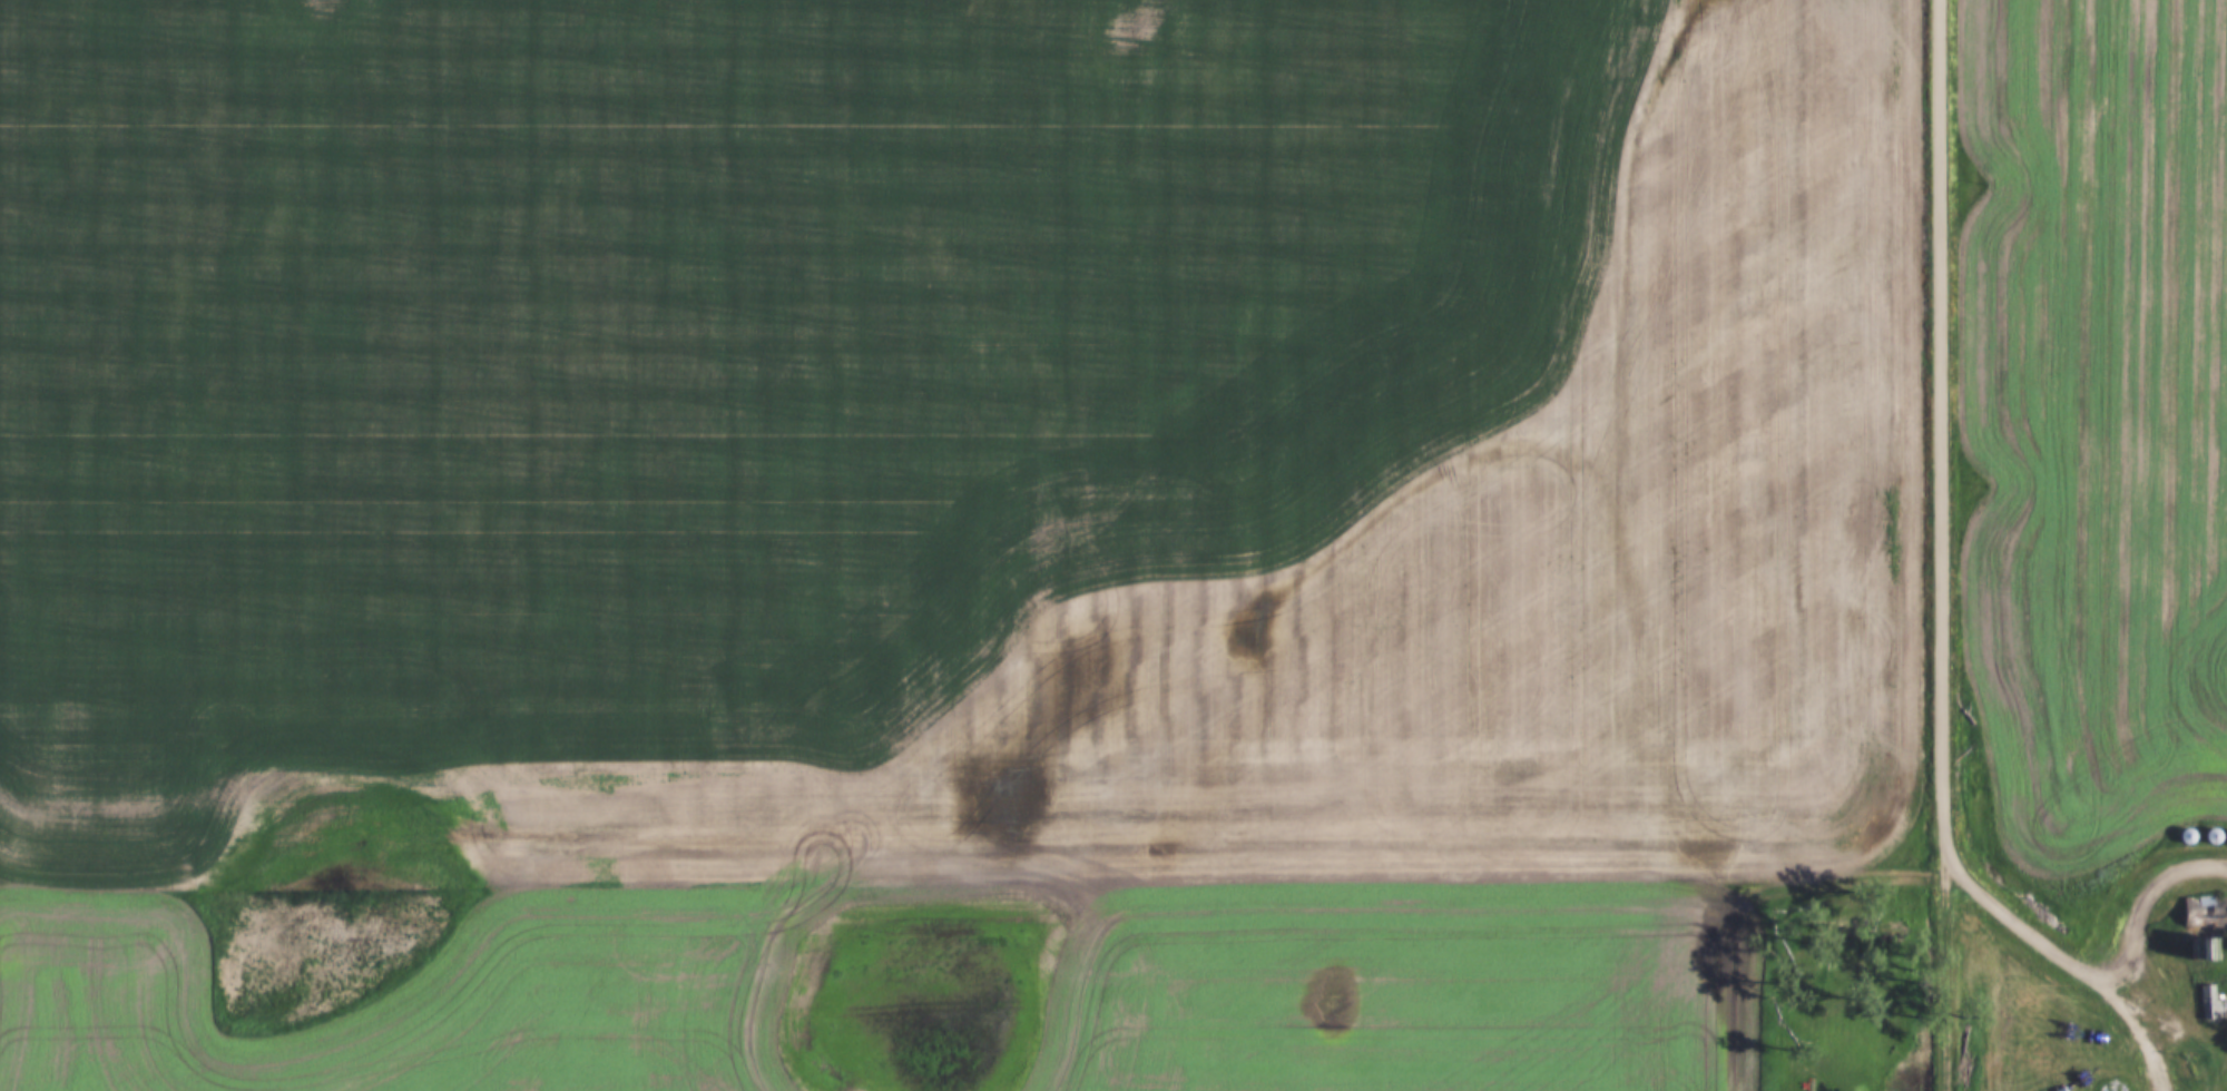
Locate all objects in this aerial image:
road: (1943, 417)
building: (2185, 835)
building: (2209, 837)
road: (2143, 908)
building: (2204, 947)
road: (2060, 957)
road: (1945, 963)
building: (2209, 1004)

